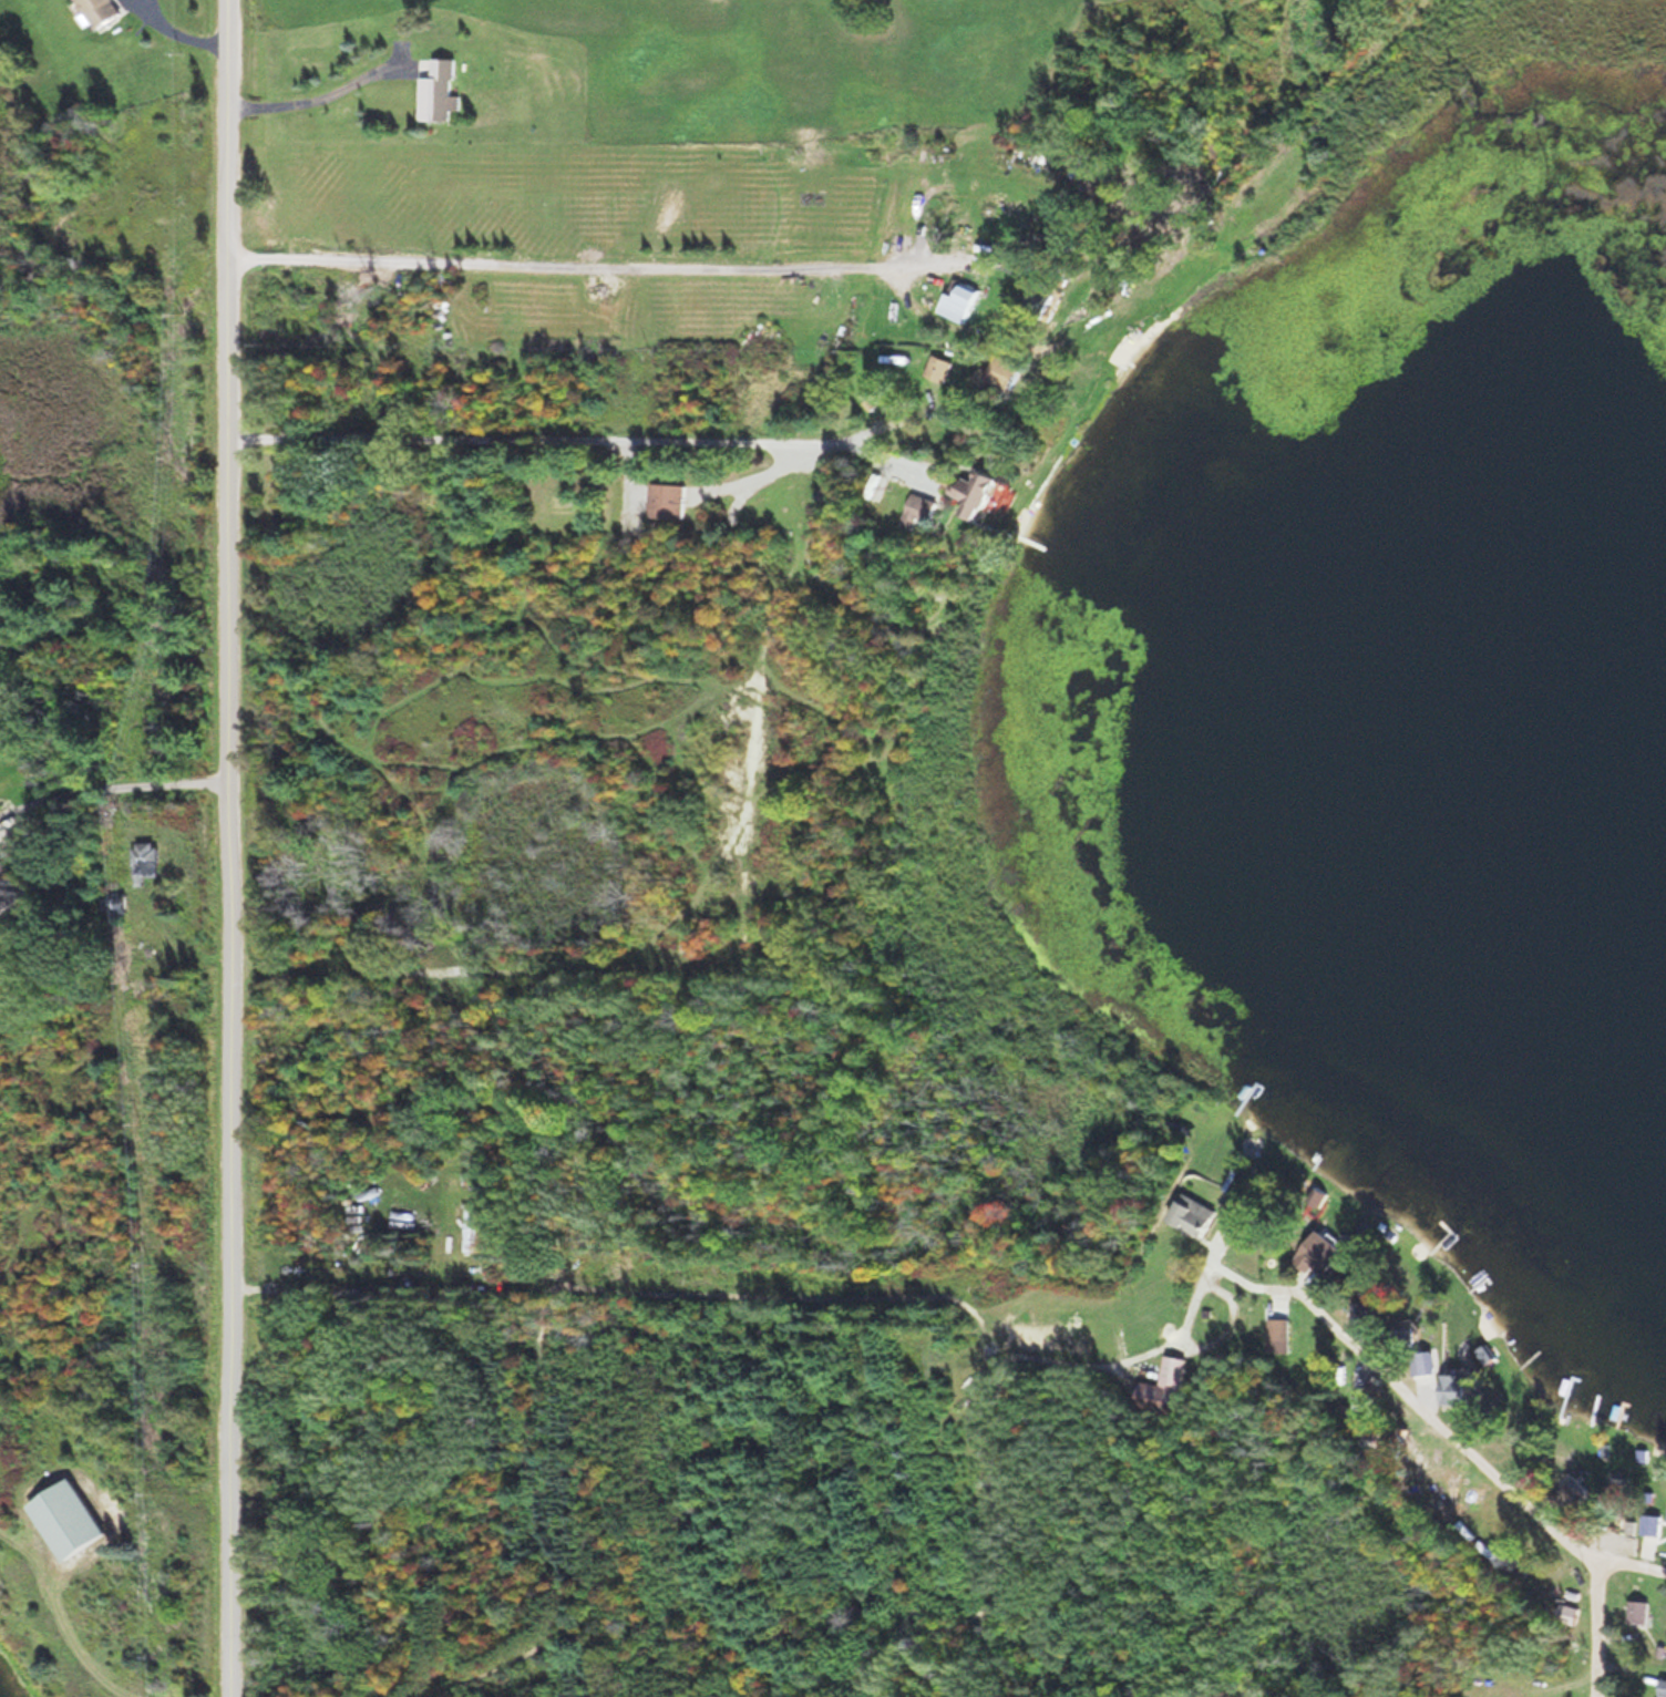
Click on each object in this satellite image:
building: (100, 11)
building: (438, 91)
building: (1045, 294)
building: (960, 302)
building: (940, 367)
building: (1002, 373)
building: (979, 494)
building: (667, 500)
building: (923, 507)
road: (237, 847)
building: (146, 861)
building: (4, 896)
building: (1195, 1215)
building: (1322, 1253)
building: (1376, 1321)
building: (1281, 1335)
road: (1406, 1376)
building: (1168, 1386)
building: (1458, 1387)
building: (1617, 1490)
building: (1567, 1492)
building: (70, 1519)
building: (1650, 1521)
road: (1636, 1556)
building: (1645, 1612)
road: (1605, 1623)
building: (1664, 1687)

